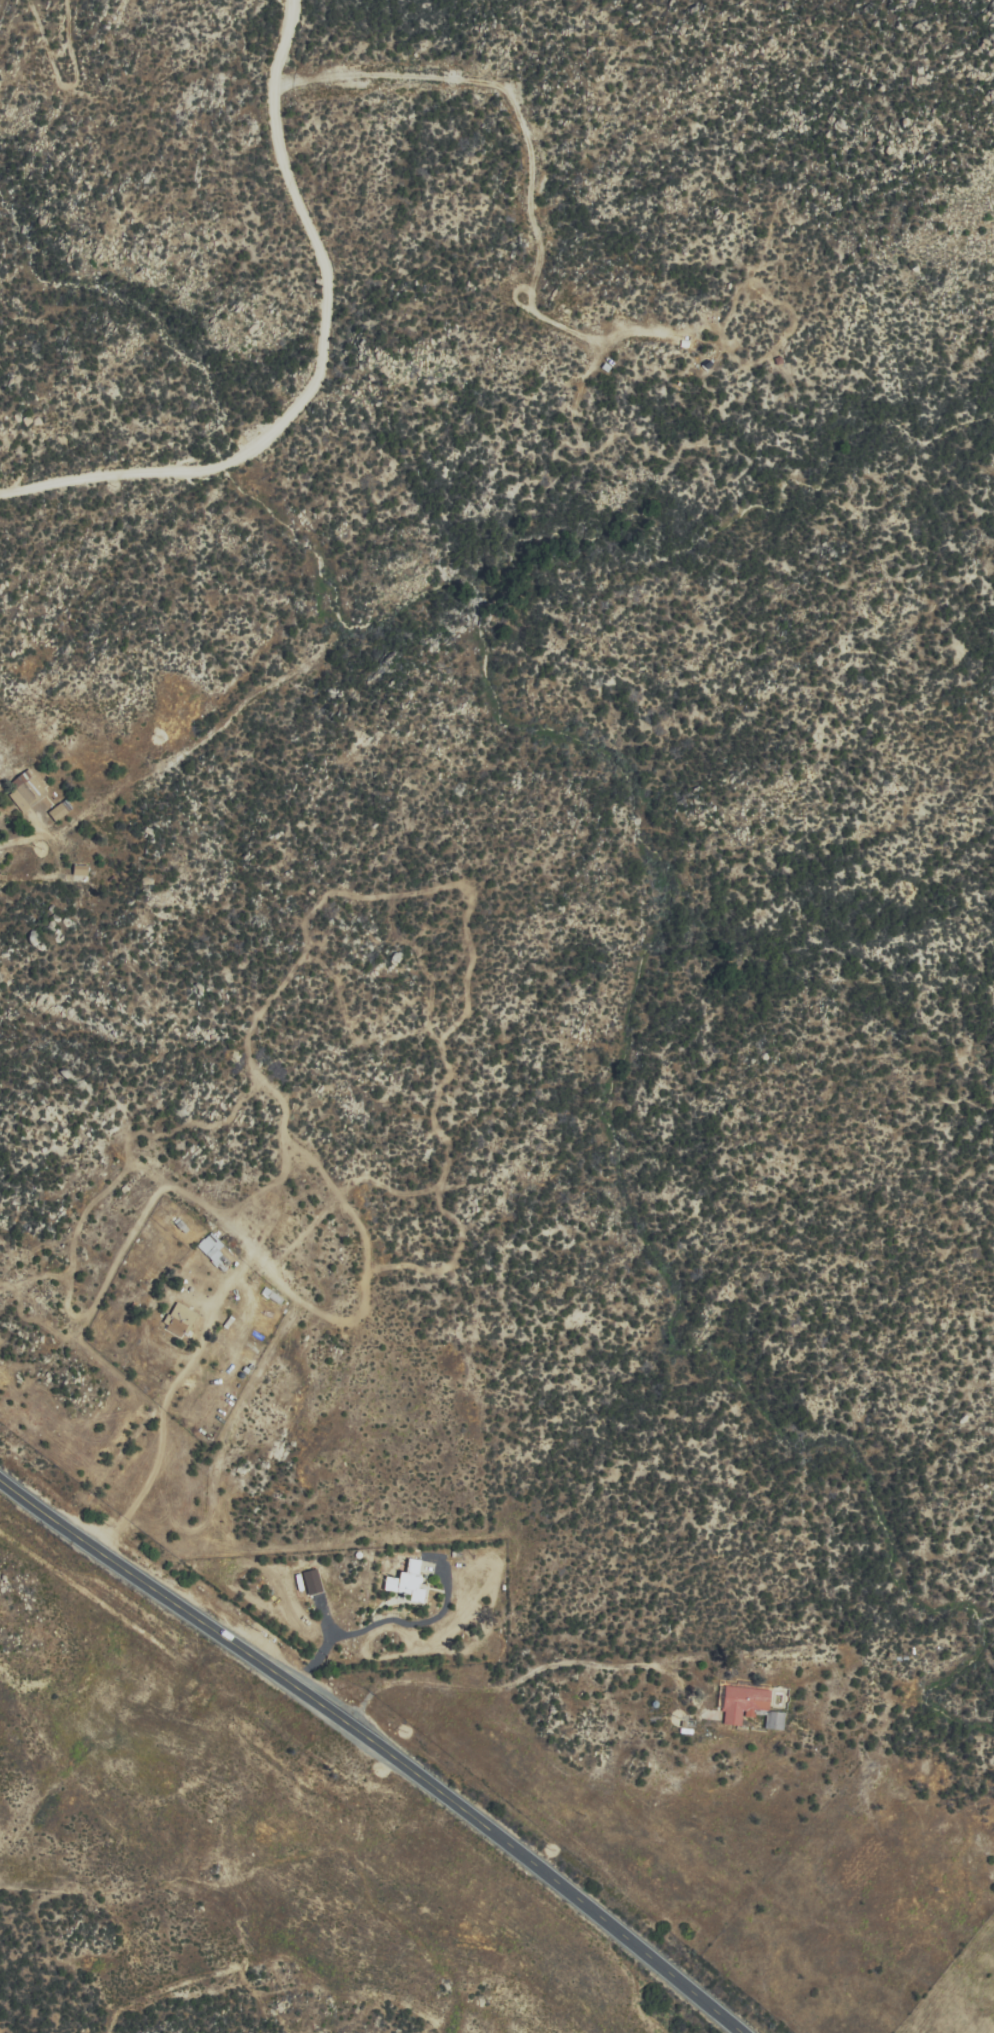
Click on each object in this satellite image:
road: (320, 358)
road: (13, 841)
building: (213, 1249)
building: (178, 1318)
building: (407, 1581)
building: (743, 1702)
road: (380, 1743)

